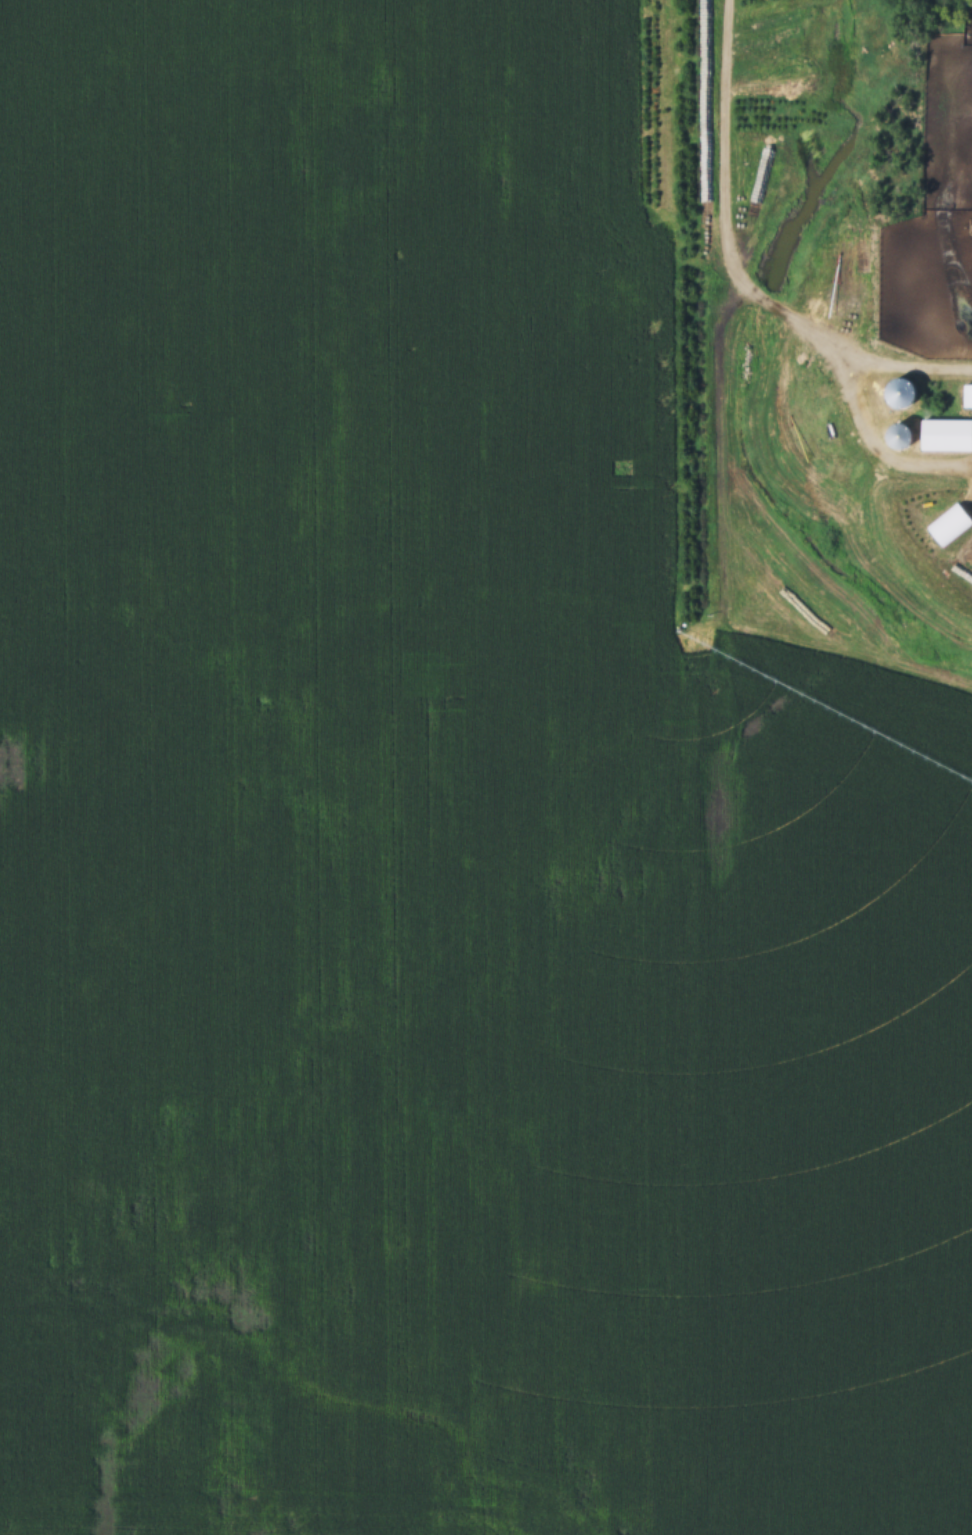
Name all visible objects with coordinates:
road: (754, 296)
building: (946, 435)
building: (899, 437)

